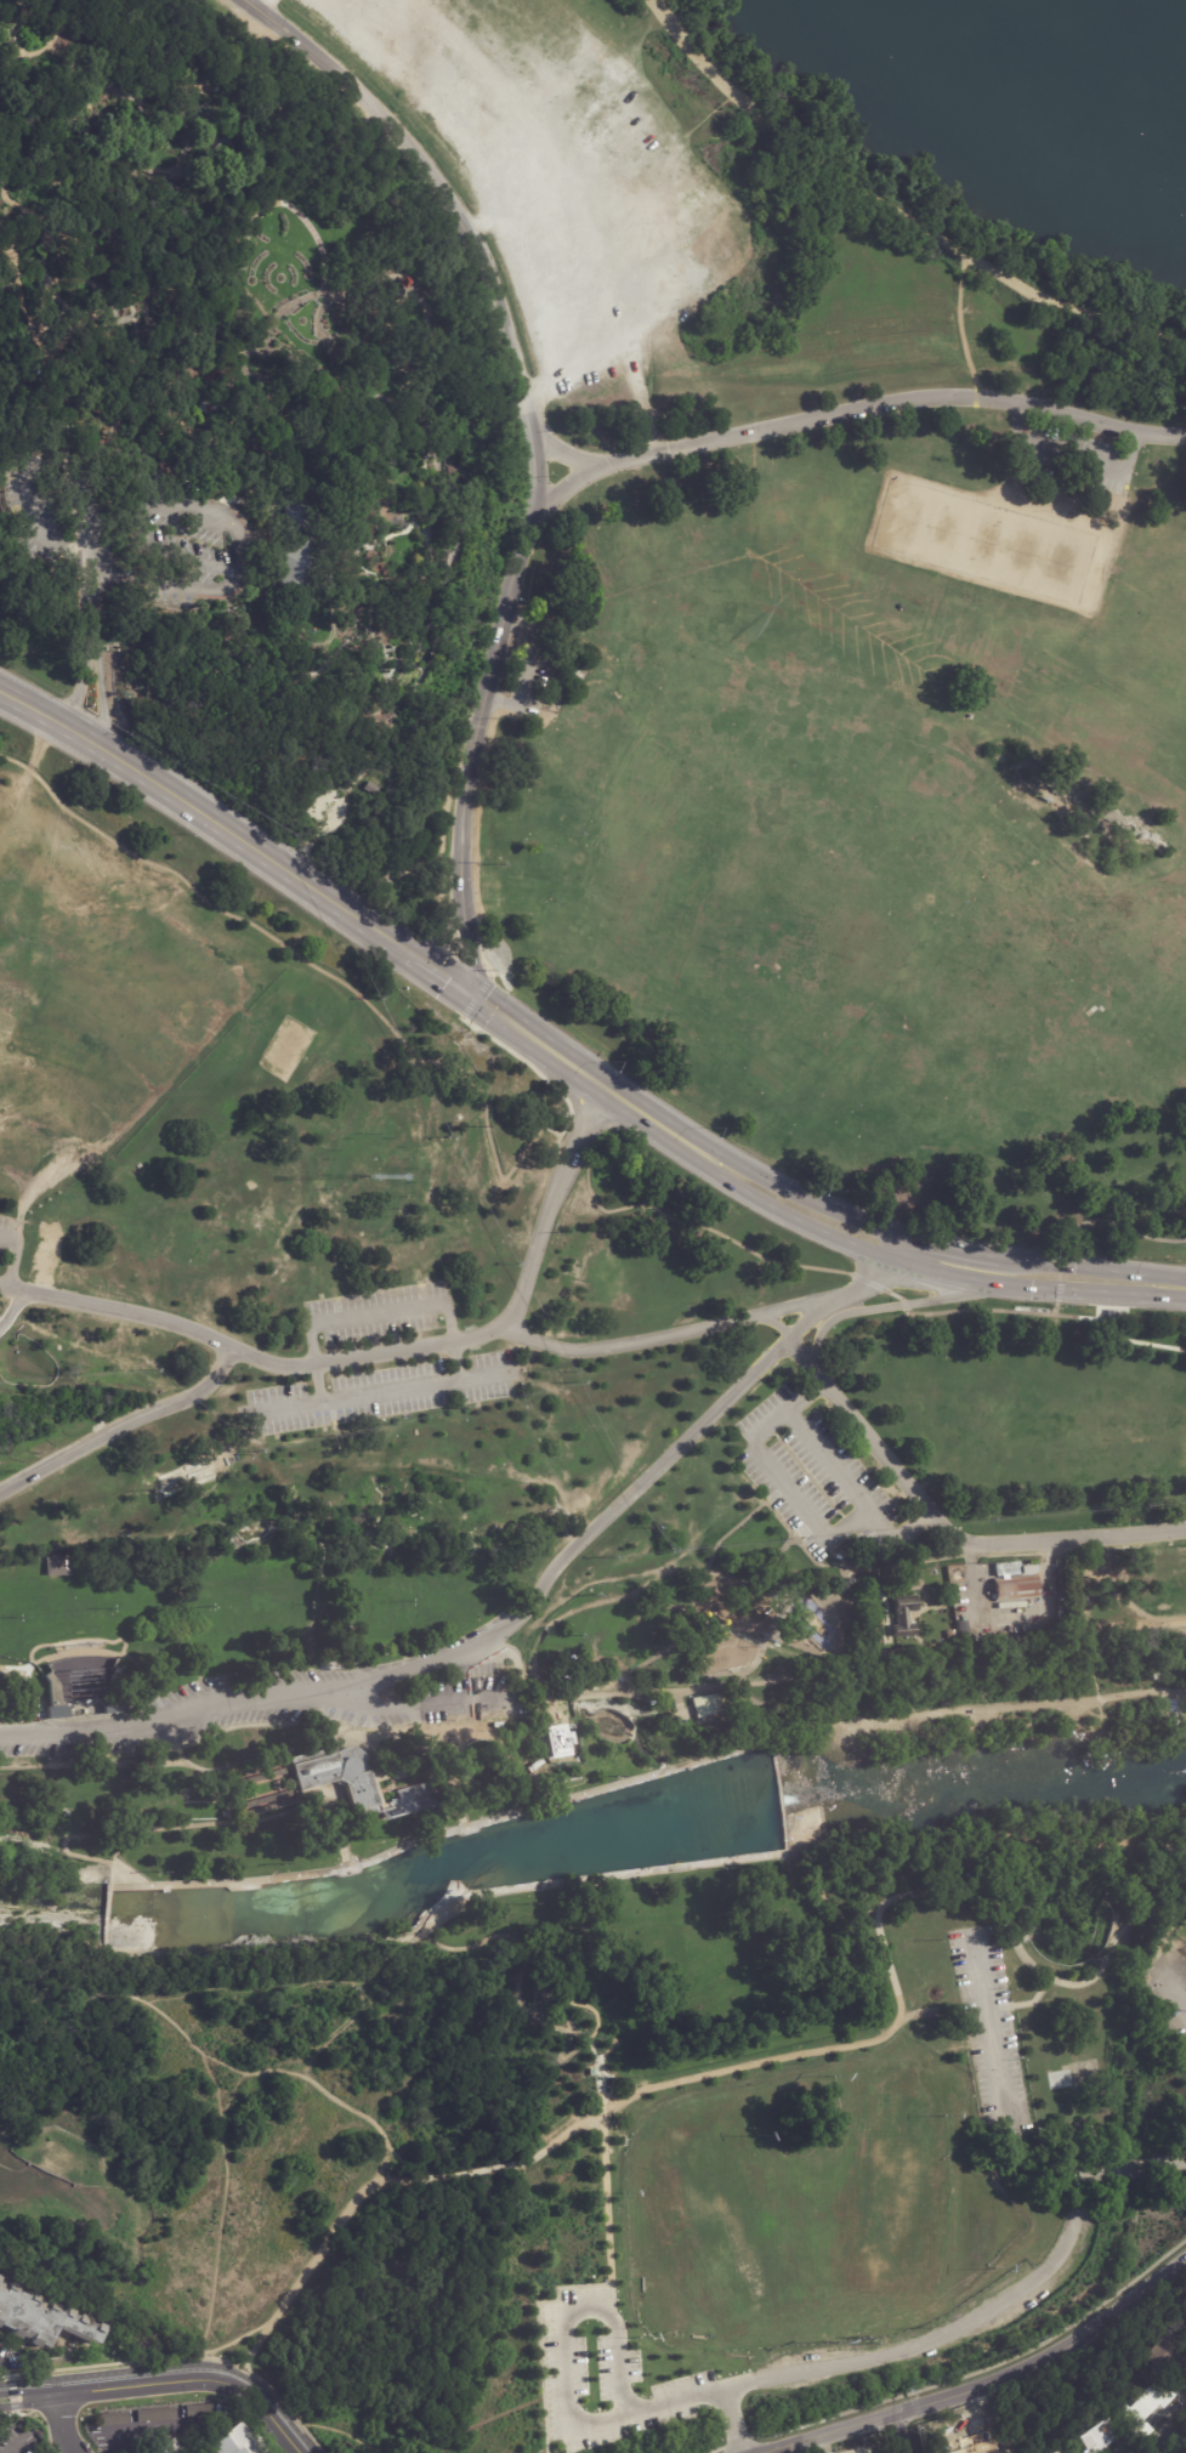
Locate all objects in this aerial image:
road: (262, 5)
river: (1144, 30)
road: (45, 46)
parking lot: (551, 161)
road: (219, 188)
road: (893, 212)
road: (473, 223)
road: (955, 328)
road: (100, 353)
road: (40, 390)
road: (532, 390)
road: (895, 404)
road: (527, 410)
building: (104, 436)
building: (68, 455)
parking lot: (1067, 456)
road: (1068, 456)
road: (567, 458)
road: (11, 466)
road: (566, 489)
road: (469, 492)
road: (110, 506)
road: (13, 521)
road: (35, 540)
road: (87, 540)
park: (989, 541)
road: (244, 551)
building: (296, 556)
building: (444, 560)
building: (119, 564)
road: (154, 586)
road: (149, 618)
road: (95, 665)
parking lot: (535, 666)
road: (529, 668)
road: (79, 687)
road: (33, 709)
road: (90, 739)
road: (446, 811)
park: (868, 812)
road: (473, 836)
park: (805, 865)
road: (438, 936)
road: (438, 937)
road: (449, 947)
road: (404, 949)
road: (466, 954)
road: (467, 955)
road: (330, 975)
road: (473, 994)
traffic signals: (473, 996)
road: (532, 1067)
road: (796, 1193)
road: (551, 1203)
park: (580, 1222)
road: (1086, 1223)
road: (704, 1226)
parking lot: (13, 1243)
road: (898, 1247)
road: (953, 1247)
road: (11, 1257)
road: (920, 1266)
road: (1091, 1267)
road: (862, 1284)
road: (1181, 1285)
road: (1181, 1288)
road: (889, 1306)
road: (13, 1310)
road: (119, 1310)
road: (953, 1311)
building: (1114, 1313)
road: (773, 1322)
road: (1114, 1334)
road: (664, 1335)
road: (371, 1355)
parking lot: (384, 1363)
road: (486, 1380)
road: (460, 1384)
road: (286, 1410)
road: (121, 1423)
road: (829, 1459)
parking lot: (807, 1476)
road: (804, 1511)
road: (949, 1522)
building: (56, 1565)
building: (1006, 1571)
building: (958, 1586)
building: (1014, 1588)
building: (1065, 1594)
building: (958, 1599)
road: (836, 1608)
building: (901, 1614)
road: (1089, 1623)
building: (1027, 1628)
building: (961, 1629)
building: (348, 1633)
railway: (750, 1637)
road: (479, 1647)
railway: (830, 1662)
building: (575, 1677)
building: (85, 1685)
road: (465, 1700)
parking lot: (288, 1702)
building: (709, 1704)
road: (1020, 1714)
building: (513, 1736)
building: (527, 1736)
road: (419, 1737)
building: (501, 1739)
building: (560, 1739)
road: (773, 1743)
building: (515, 1744)
building: (501, 1745)
building: (501, 1753)
building: (517, 1754)
building: (529, 1758)
building: (501, 1760)
building: (518, 1761)
building: (549, 1772)
building: (262, 1773)
building: (539, 1773)
building: (530, 1776)
building: (341, 1777)
building: (269, 1795)
dam: (779, 1795)
road: (781, 1796)
road: (558, 1799)
building: (225, 1813)
road: (193, 1824)
road: (339, 1833)
road: (994, 1833)
road: (58, 1846)
road: (127, 1846)
road: (788, 1850)
road: (596, 1875)
road: (228, 1884)
dam: (109, 1904)
road: (109, 1904)
park: (1181, 1930)
road: (511, 1936)
road: (1130, 1954)
road: (1038, 1971)
road: (121, 1974)
road: (256, 1988)
road: (1176, 1988)
road: (362, 1992)
parking lot: (1167, 1992)
road: (1033, 2000)
road: (561, 2026)
parking lot: (989, 2029)
road: (808, 2054)
road: (208, 2055)
road: (569, 2055)
building: (591, 2069)
road: (598, 2071)
road: (575, 2130)
road: (528, 2159)
road: (1086, 2170)
road: (461, 2173)
park: (900, 2180)
road: (392, 2184)
road: (607, 2197)
road: (220, 2211)
park: (726, 2224)
road: (297, 2282)
building: (41, 2319)
road: (236, 2339)
road: (917, 2343)
parking lot: (853, 2362)
road: (966, 2377)
road: (543, 2378)
road: (166, 2379)
road: (563, 2379)
road: (980, 2383)
building: (197, 2412)
building: (1147, 2412)
building: (154, 2415)
road: (493, 2418)
building: (112, 2419)
road: (63, 2423)
road: (336, 2431)
road: (902, 2432)
road: (1171, 2438)
building: (1099, 2440)
building: (231, 2442)
road: (16, 2447)
building: (164, 2448)
building: (977, 2448)
building: (1062, 2452)

